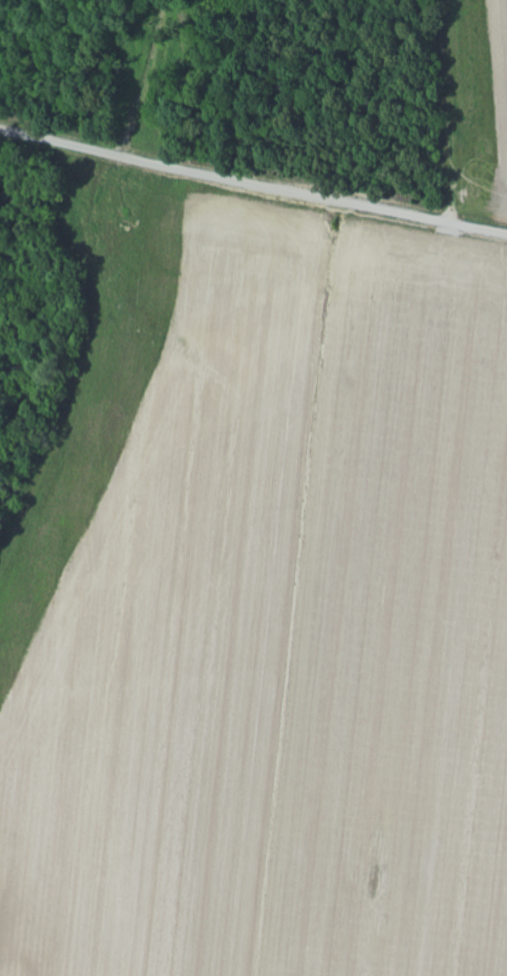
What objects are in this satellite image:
road: (252, 185)

